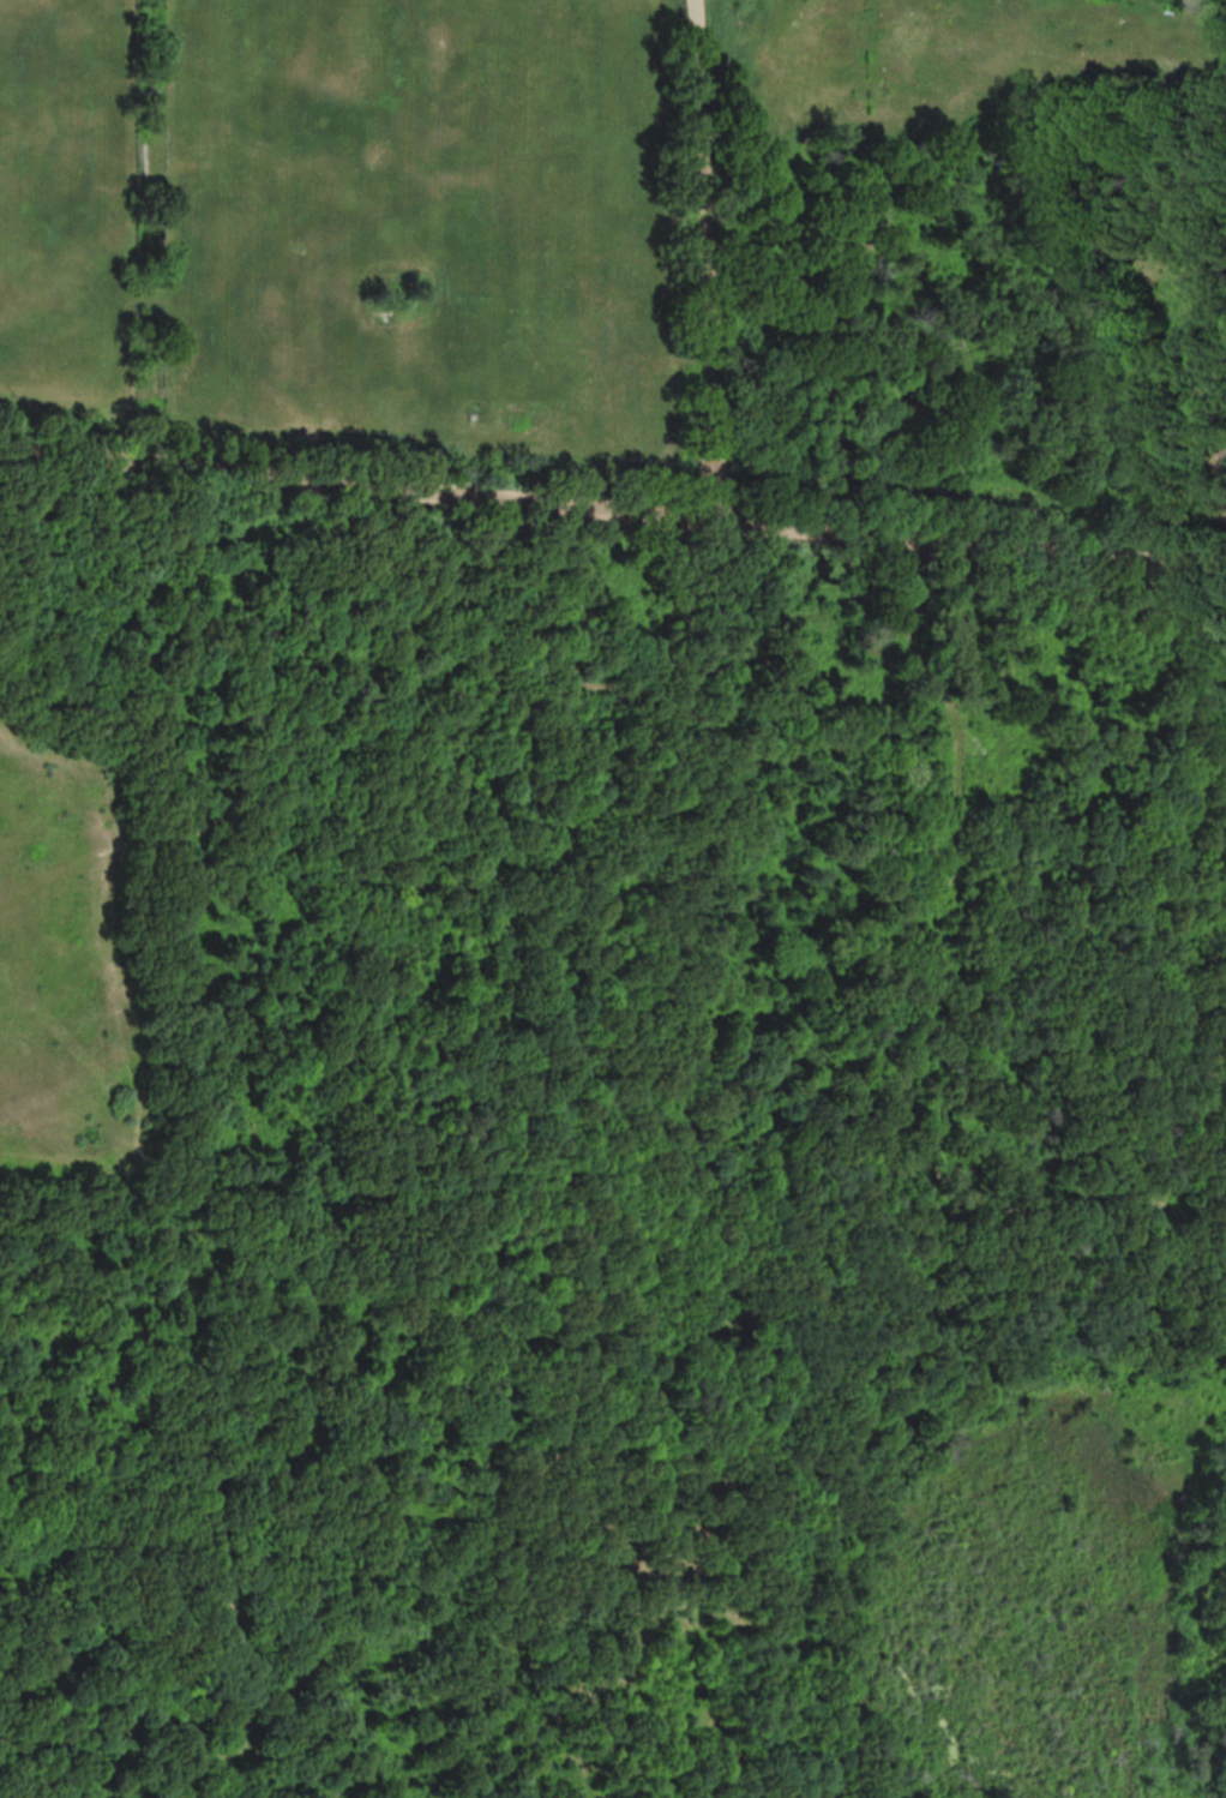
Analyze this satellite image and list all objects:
road: (709, 262)
road: (1218, 440)
road: (612, 514)

